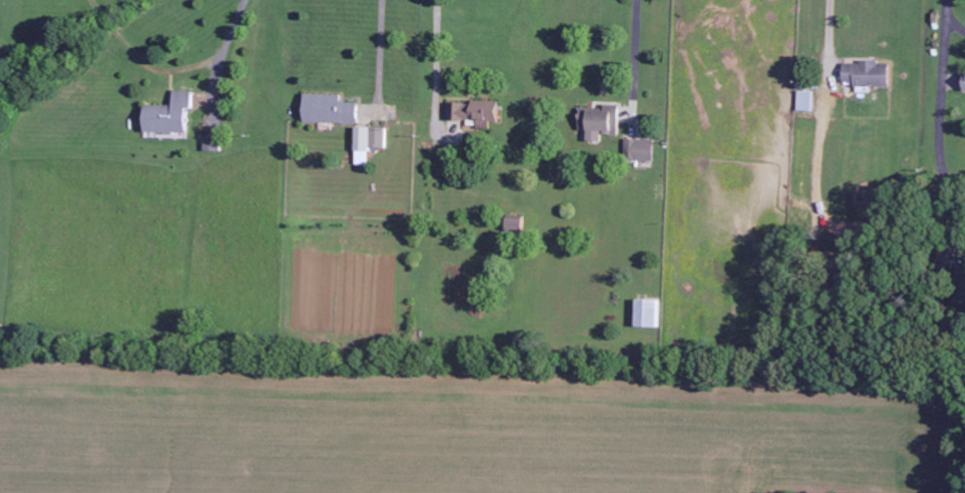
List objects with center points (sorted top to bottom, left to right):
building: (864, 73)
building: (963, 81)
building: (805, 101)
building: (328, 109)
building: (473, 112)
building: (167, 114)
building: (599, 122)
building: (368, 140)
building: (210, 142)
building: (638, 150)
building: (513, 222)
building: (961, 284)
building: (646, 313)

